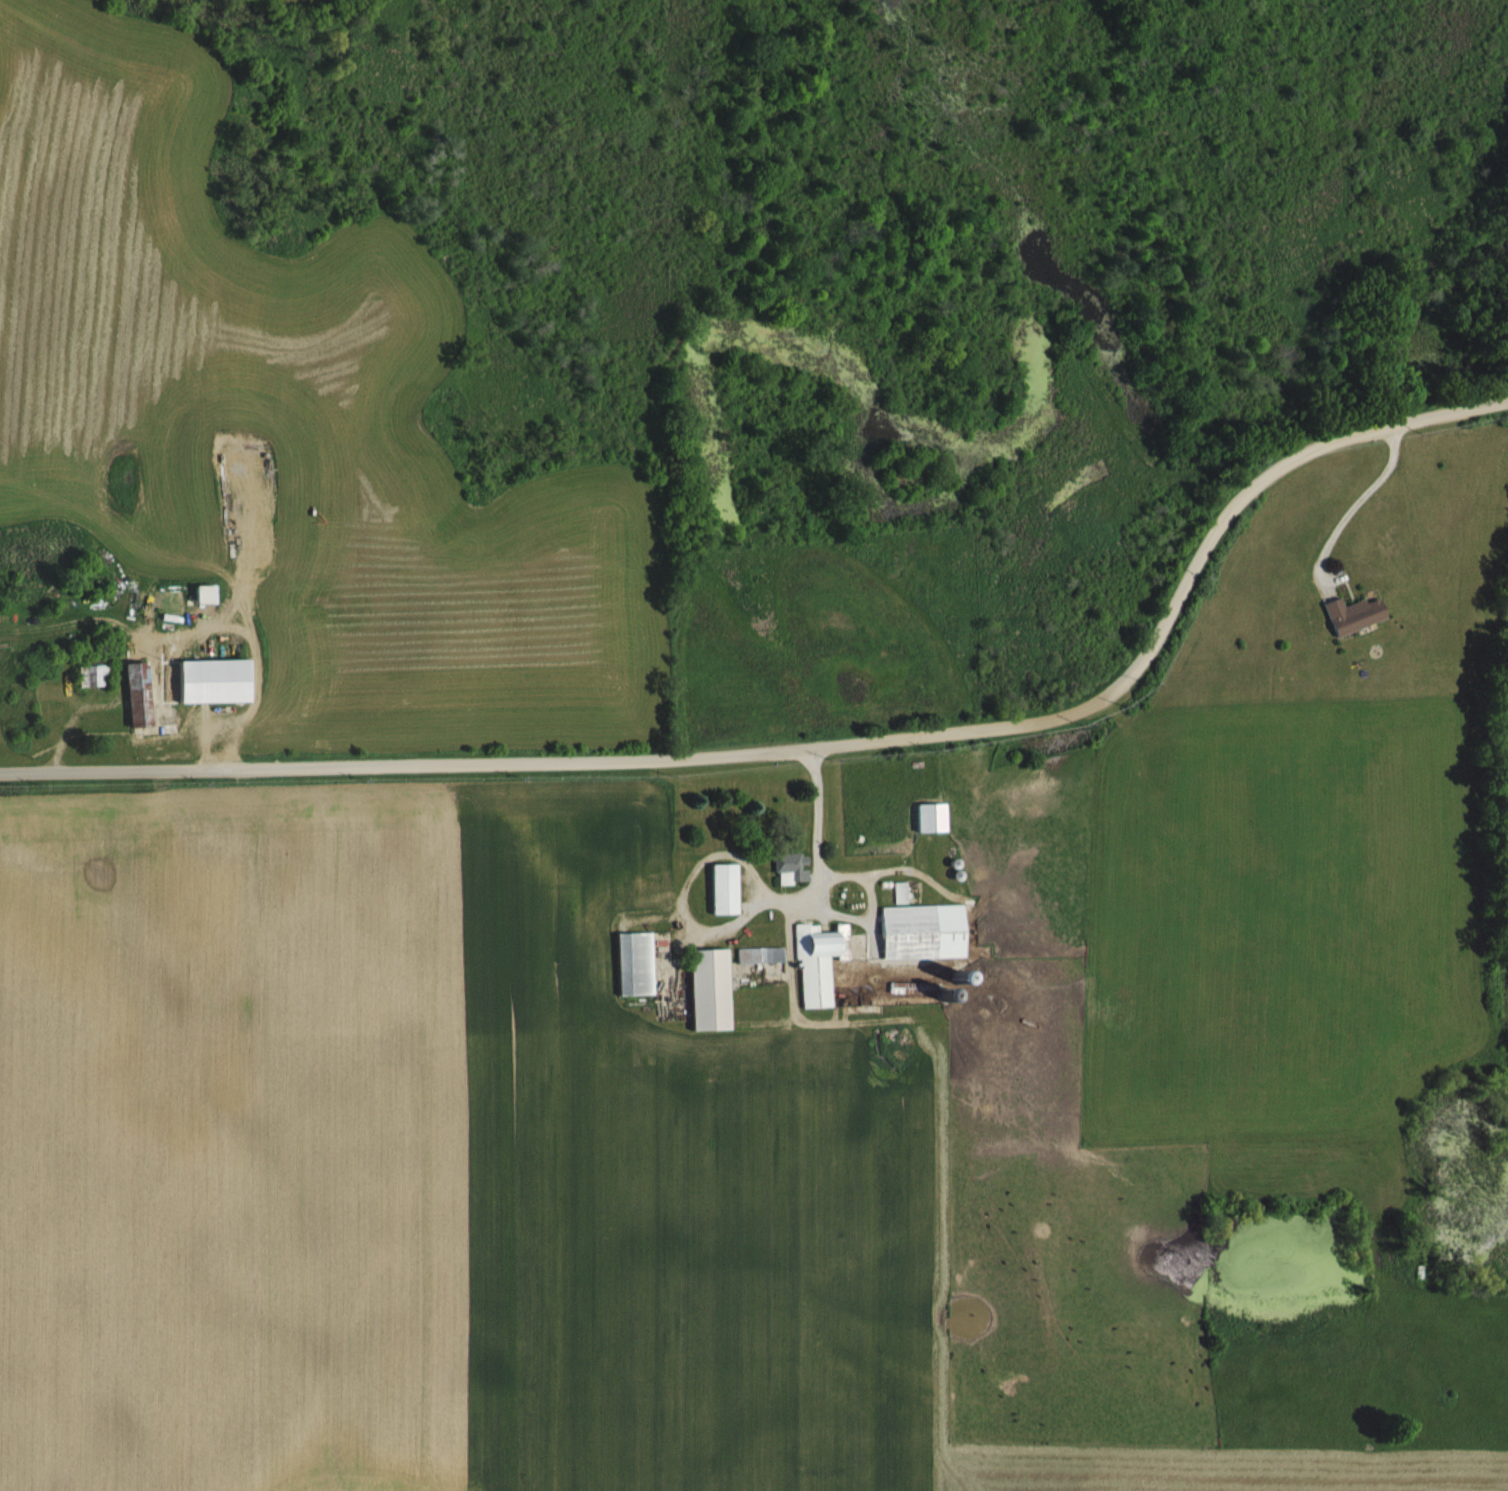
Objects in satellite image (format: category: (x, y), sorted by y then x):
road: (1354, 507)
building: (1355, 613)
building: (96, 674)
building: (217, 680)
building: (141, 694)
road: (821, 749)
building: (933, 817)
road: (817, 830)
building: (792, 868)
building: (726, 888)
building: (924, 931)
building: (761, 954)
building: (820, 961)
building: (638, 963)
building: (908, 987)
building: (713, 989)

